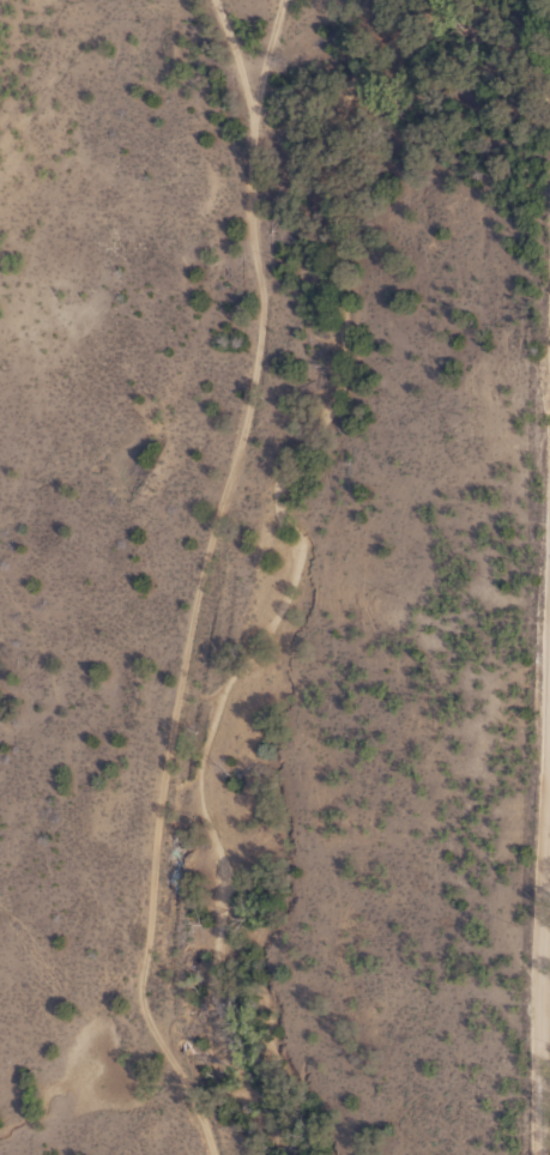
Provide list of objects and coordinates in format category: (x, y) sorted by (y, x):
road: (219, 68)
road: (250, 575)
crop: (274, 577)
road: (545, 1000)

